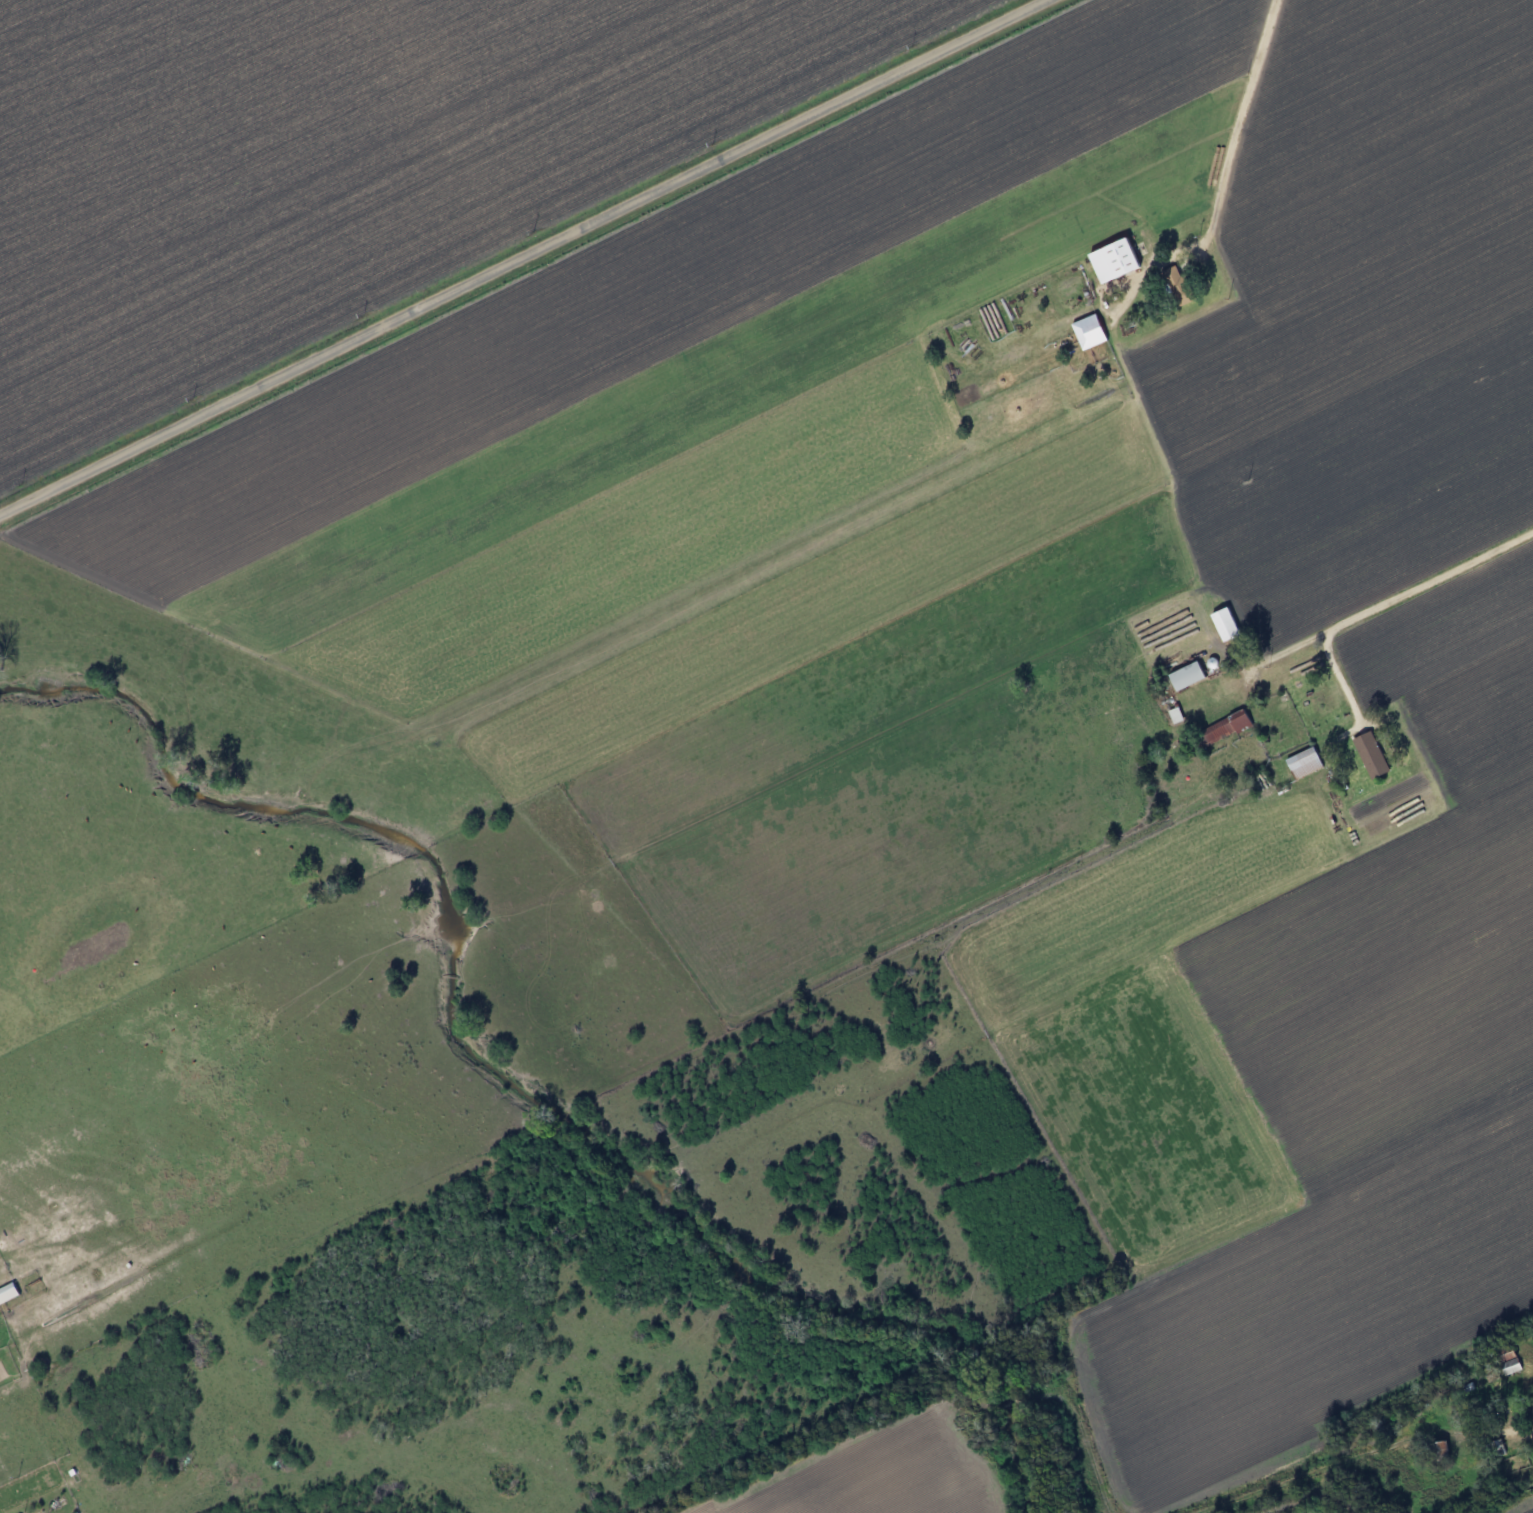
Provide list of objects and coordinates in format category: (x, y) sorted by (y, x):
road: (1222, 183)
road: (522, 254)
building: (1115, 261)
building: (1089, 332)
road: (1394, 597)
building: (1225, 623)
building: (1187, 675)
building: (1223, 728)
building: (1371, 755)
building: (1304, 763)
building: (7, 1293)
building: (1511, 1365)
road: (1524, 1434)
building: (1441, 1451)
building: (1499, 1452)

